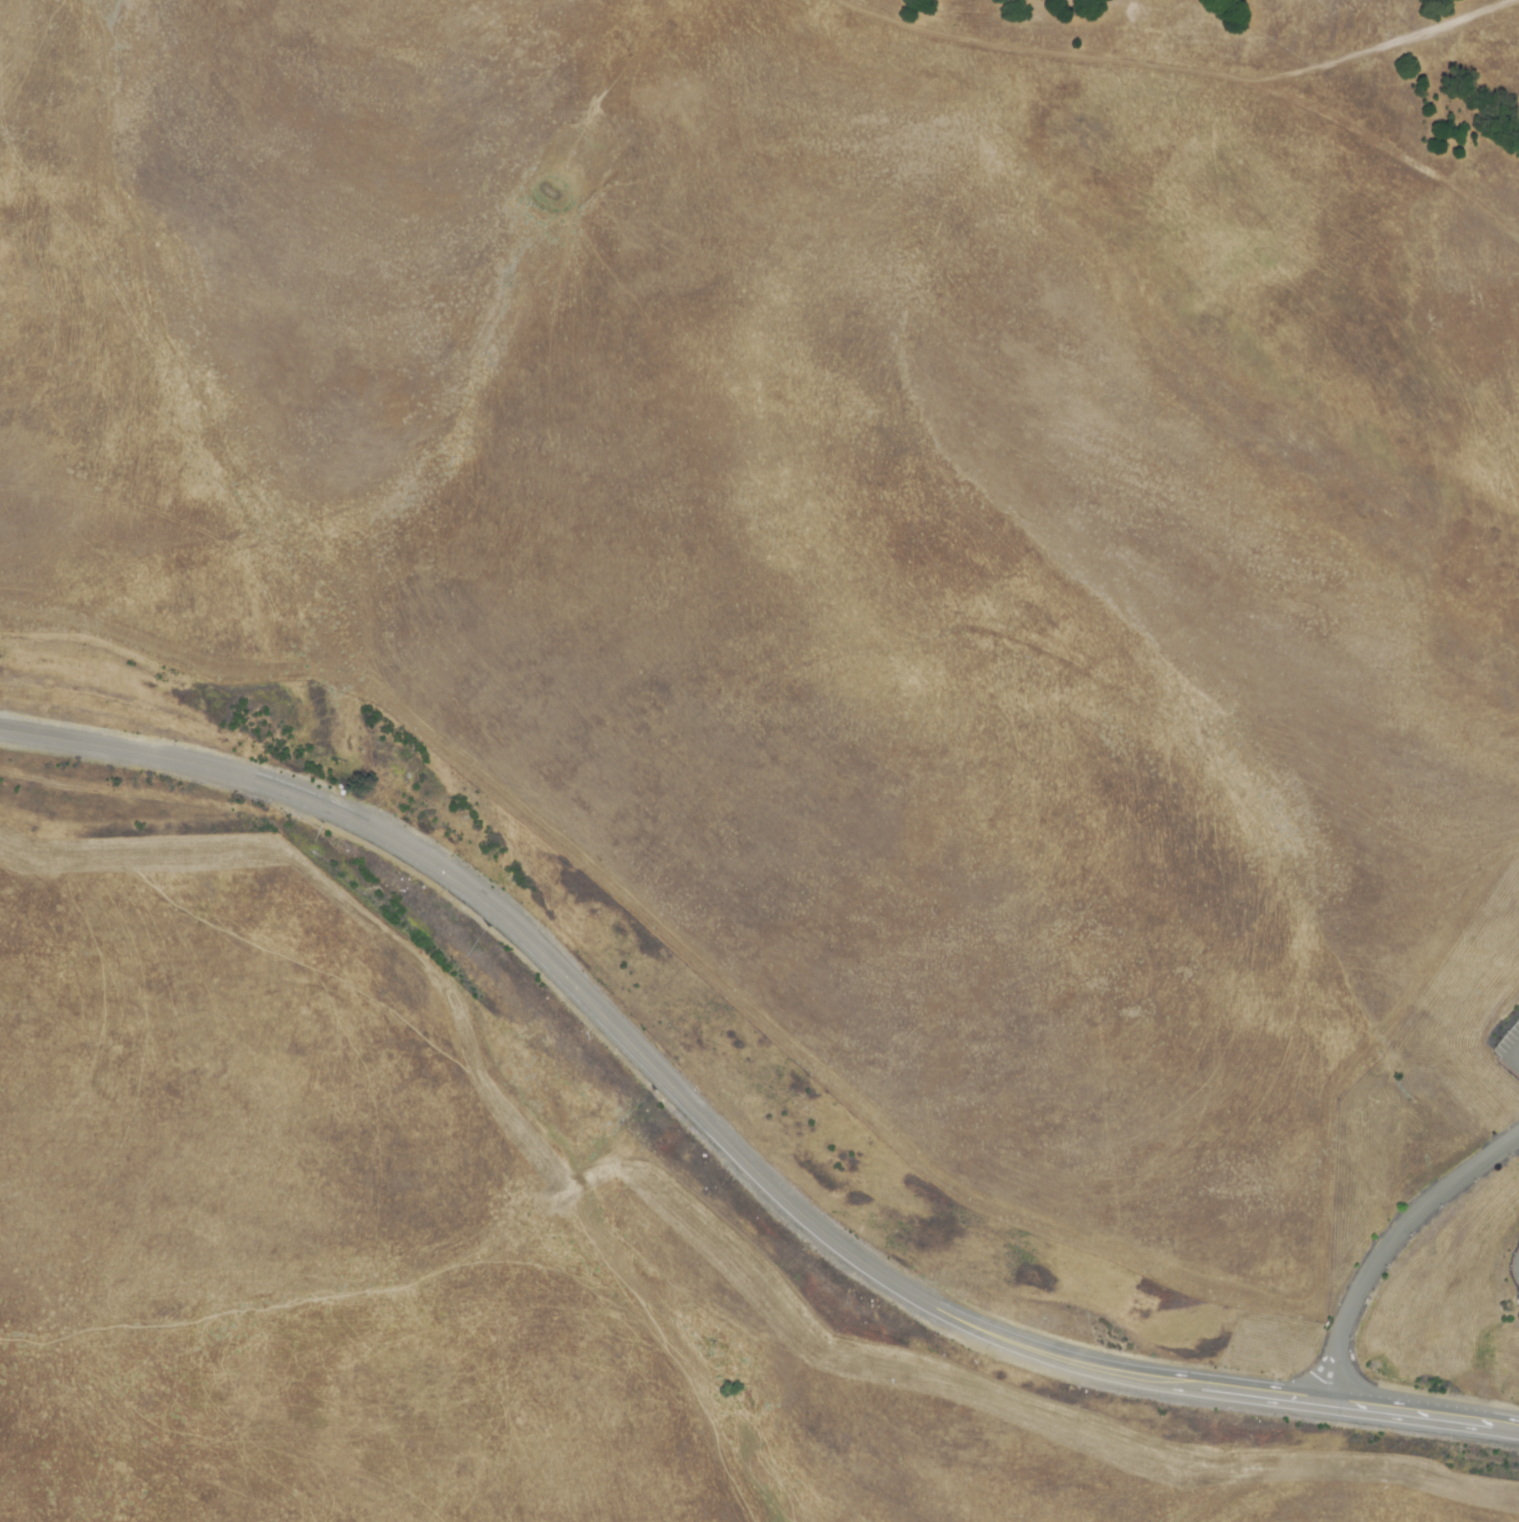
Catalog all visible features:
road: (504, 918)
road: (1513, 1057)
road: (1389, 1248)
road: (1518, 1266)
road: (1113, 1374)
road: (1427, 1418)

